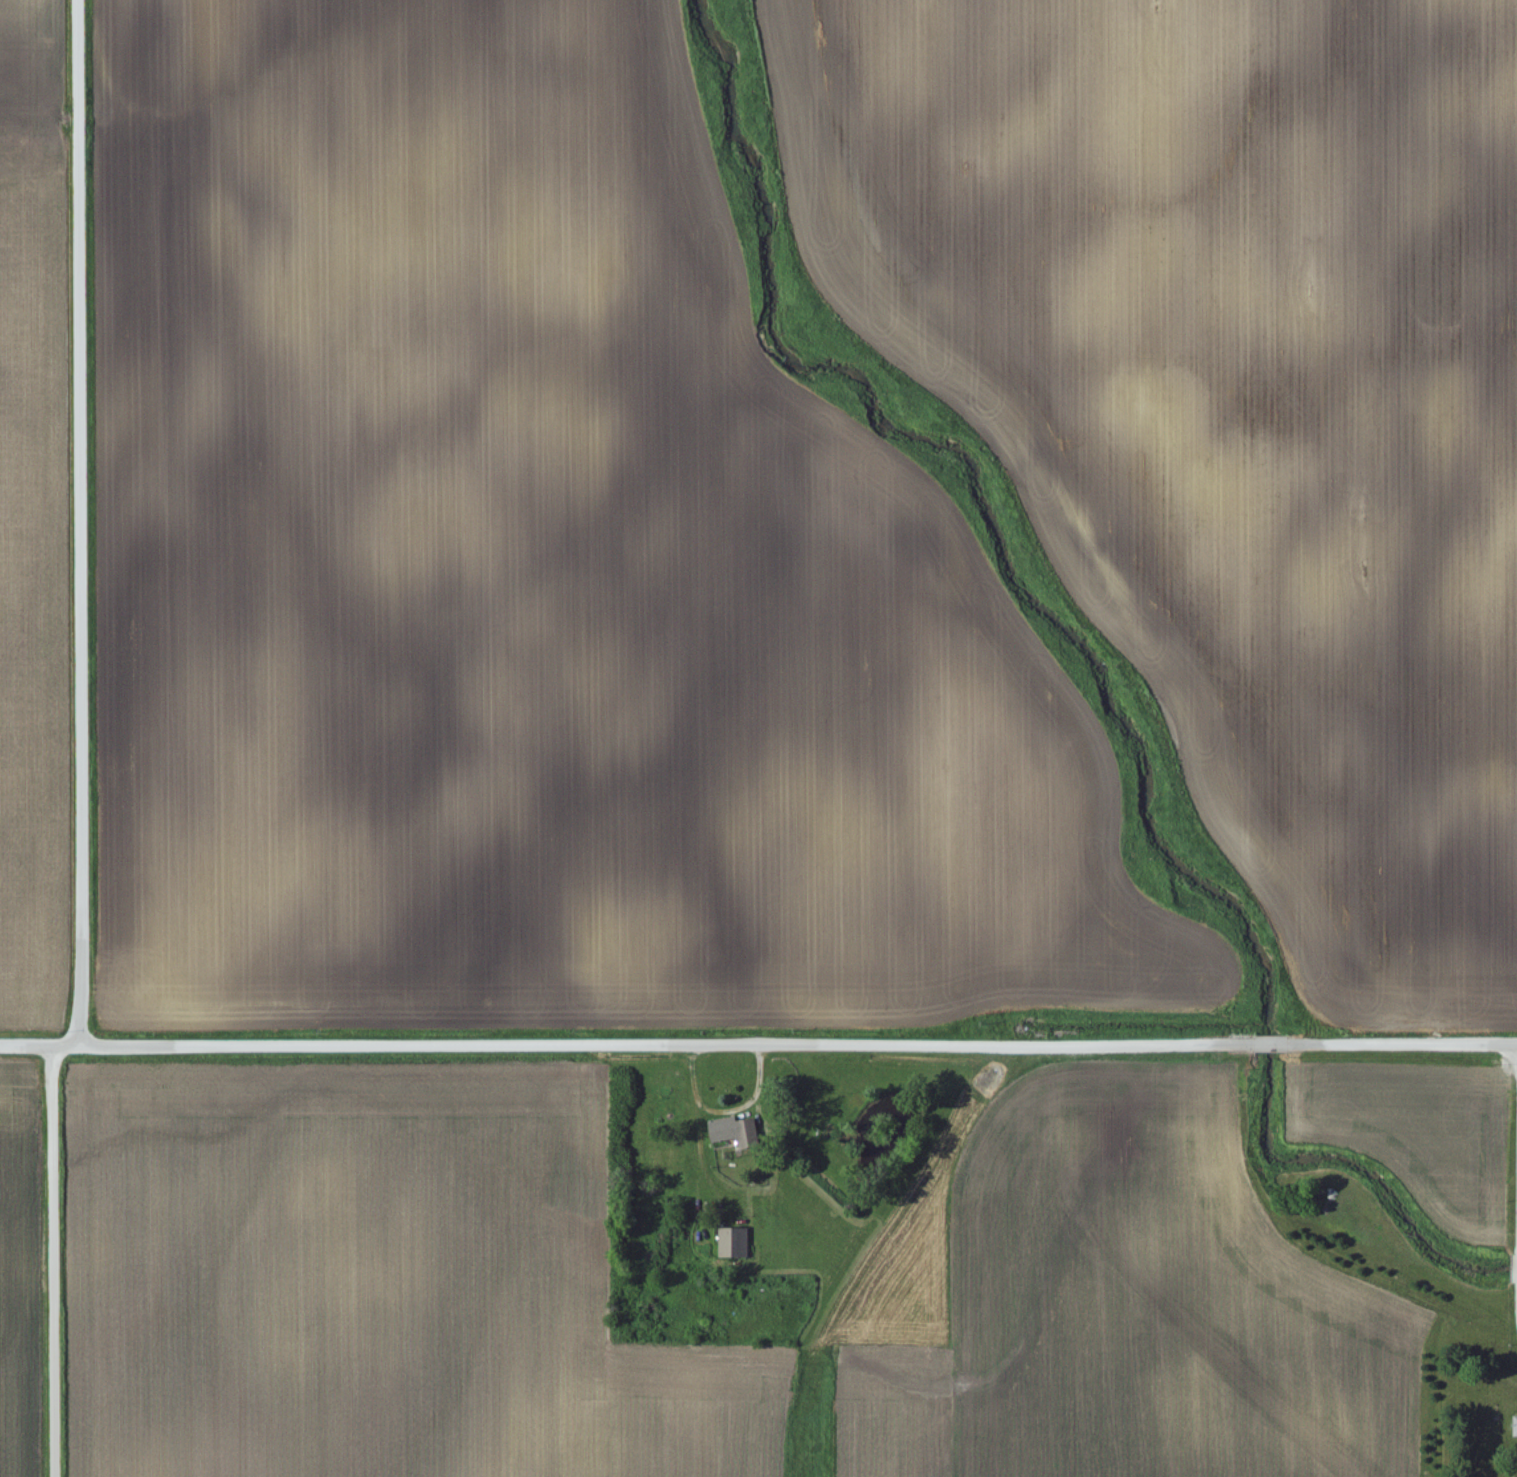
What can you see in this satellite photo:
road: (77, 523)
road: (792, 1043)
road: (33, 1044)
building: (724, 1130)
building: (730, 1240)
road: (57, 1258)
road: (1516, 1315)
building: (1513, 1426)

